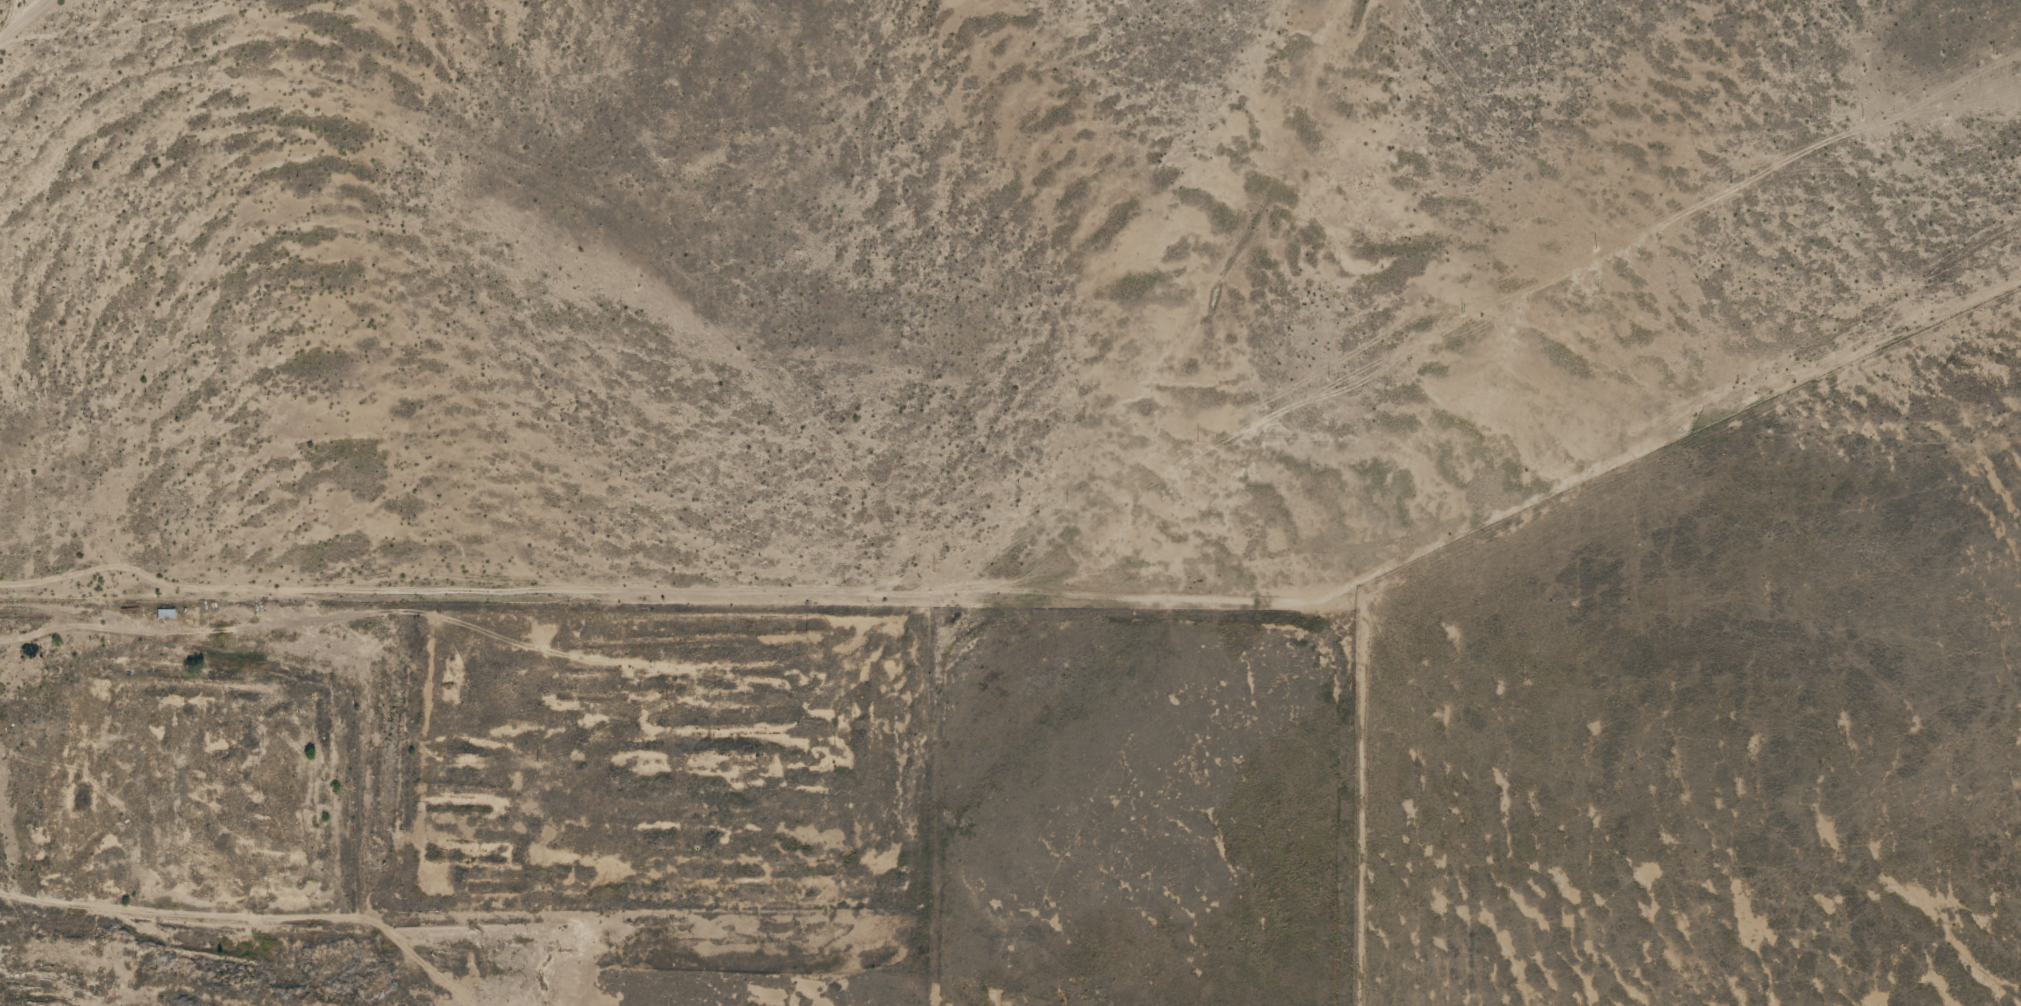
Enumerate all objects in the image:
road: (5, 4)
building: (164, 614)
road: (1039, 663)

